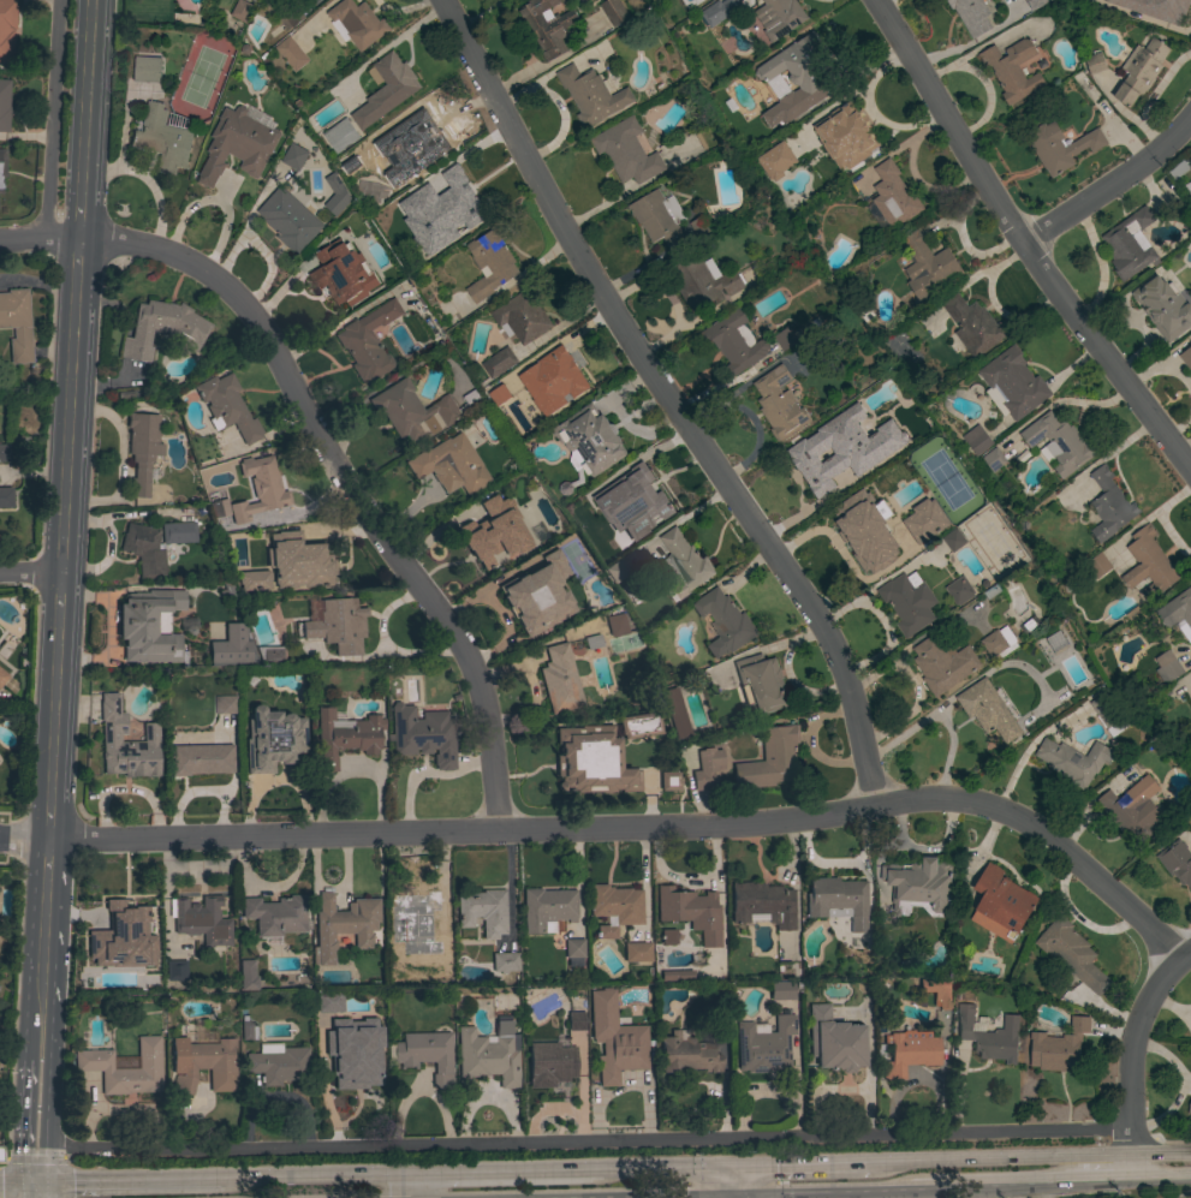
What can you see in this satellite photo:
building: (1035, 4)
building: (1156, 8)
building: (242, 11)
building: (613, 11)
building: (713, 14)
building: (971, 16)
building: (291, 17)
building: (779, 17)
building: (358, 23)
building: (547, 26)
building: (6, 29)
building: (291, 54)
building: (1095, 64)
building: (147, 70)
building: (1012, 70)
building: (1141, 71)
building: (798, 78)
road: (85, 82)
building: (386, 89)
building: (591, 94)
building: (4, 105)
road: (49, 119)
building: (845, 135)
building: (341, 136)
building: (162, 139)
building: (418, 144)
building: (237, 145)
building: (1060, 147)
building: (626, 151)
building: (294, 157)
building: (775, 160)
building: (1, 165)
building: (1178, 171)
road: (1110, 184)
building: (1186, 191)
building: (335, 195)
building: (893, 196)
road: (78, 197)
building: (457, 207)
building: (659, 217)
building: (290, 221)
building: (701, 227)
road: (1018, 242)
building: (1130, 244)
building: (489, 264)
road: (75, 267)
building: (924, 268)
building: (341, 273)
building: (702, 281)
building: (1162, 308)
building: (522, 317)
building: (16, 324)
building: (972, 326)
building: (162, 328)
building: (790, 338)
building: (368, 341)
building: (734, 341)
building: (1190, 342)
building: (1186, 358)
building: (499, 363)
building: (556, 383)
building: (1012, 385)
building: (502, 394)
road: (668, 400)
building: (778, 404)
building: (226, 407)
building: (412, 411)
road: (66, 437)
building: (590, 439)
building: (977, 440)
building: (1058, 443)
building: (142, 449)
road: (324, 449)
building: (4, 453)
building: (871, 455)
building: (994, 460)
building: (817, 461)
building: (449, 465)
building: (260, 490)
building: (5, 497)
building: (1109, 506)
building: (219, 508)
building: (639, 508)
building: (924, 520)
building: (553, 530)
building: (865, 530)
building: (178, 532)
building: (487, 536)
building: (953, 540)
building: (144, 550)
building: (297, 561)
building: (684, 564)
building: (1148, 565)
building: (1097, 566)
building: (617, 571)
road: (29, 574)
building: (252, 580)
building: (228, 590)
building: (959, 591)
building: (538, 595)
building: (909, 602)
road: (58, 607)
building: (1179, 608)
building: (723, 622)
building: (338, 625)
building: (617, 625)
building: (149, 626)
building: (592, 642)
building: (1056, 642)
building: (996, 644)
building: (232, 648)
building: (269, 654)
building: (942, 664)
building: (1167, 667)
building: (2, 675)
building: (559, 680)
building: (761, 684)
building: (222, 705)
road: (53, 707)
building: (988, 710)
building: (674, 711)
building: (1108, 715)
building: (638, 725)
building: (422, 734)
building: (345, 737)
building: (272, 740)
building: (126, 743)
building: (770, 758)
building: (201, 759)
building: (591, 761)
building: (1073, 761)
building: (705, 768)
road: (425, 774)
building: (668, 781)
road: (49, 806)
building: (1133, 810)
road: (653, 830)
road: (4, 835)
road: (28, 838)
road: (4, 839)
building: (1177, 863)
building: (918, 886)
building: (838, 900)
building: (615, 904)
building: (762, 904)
building: (1000, 905)
building: (547, 908)
building: (483, 911)
building: (690, 912)
building: (413, 913)
building: (275, 914)
road: (44, 916)
building: (201, 920)
building: (125, 924)
building: (344, 924)
building: (606, 932)
building: (666, 938)
building: (573, 952)
building: (637, 952)
building: (1070, 953)
building: (504, 962)
building: (440, 967)
building: (175, 971)
building: (246, 976)
building: (675, 976)
building: (781, 990)
building: (936, 991)
building: (327, 1003)
building: (576, 1020)
building: (324, 1023)
building: (717, 1029)
road: (41, 1031)
building: (248, 1031)
building: (989, 1036)
building: (615, 1038)
building: (834, 1042)
building: (764, 1047)
building: (1058, 1048)
building: (489, 1054)
building: (686, 1054)
building: (909, 1054)
building: (425, 1055)
building: (94, 1060)
building: (278, 1063)
building: (203, 1065)
building: (549, 1065)
road: (1130, 1068)
building: (356, 1073)
building: (1189, 1107)
road: (37, 1109)
road: (582, 1143)
building: (1, 1155)
road: (1028, 1161)
road: (35, 1167)
road: (800, 1167)
traffic signals: (734, 1169)
road: (650, 1170)
road: (488, 1174)
road: (312, 1178)
road: (723, 1181)
road: (744, 1181)
road: (125, 1182)
road: (1160, 1182)
road: (1100, 1184)
road: (17, 1185)
traffic signals: (35, 1185)
road: (409, 1186)
road: (912, 1190)
road: (31, 1191)
road: (38, 1191)
traffic signals: (714, 1194)
road: (733, 1194)
traffic signals: (754, 1194)
road: (651, 1196)
road: (713, 1196)
road: (754, 1196)
road: (567, 1197)
road: (624, 1197)

